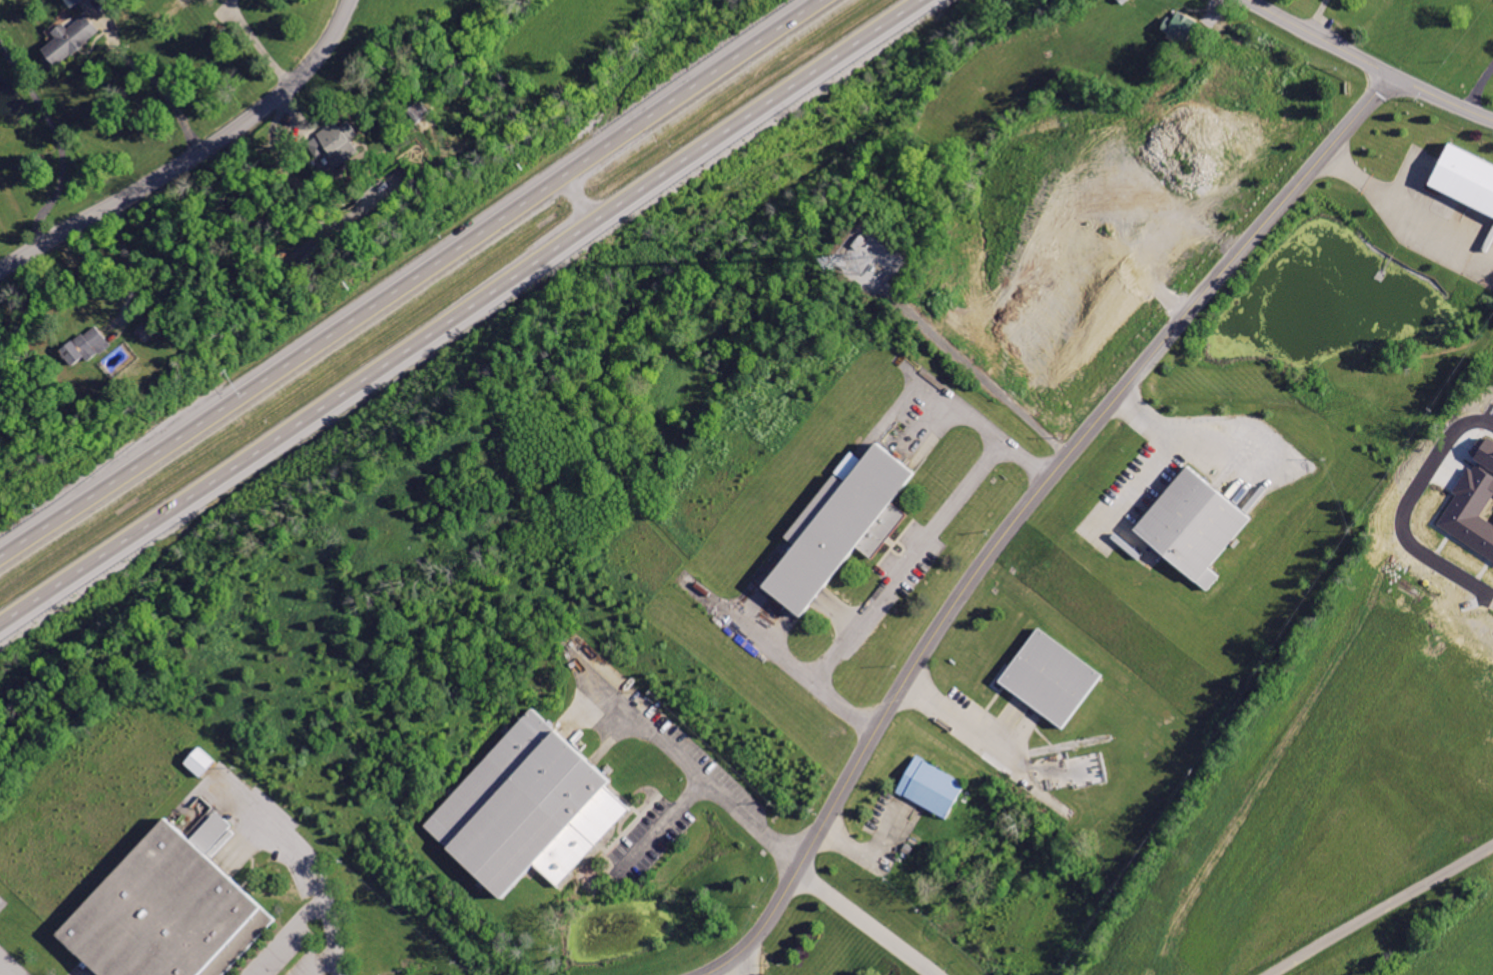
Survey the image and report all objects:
building: (79, 2)
building: (1184, 28)
building: (69, 41)
road: (255, 42)
road: (1372, 63)
road: (148, 71)
road: (1480, 89)
building: (422, 110)
road: (60, 134)
building: (336, 142)
road: (193, 155)
building: (1465, 176)
road: (1400, 201)
road: (134, 272)
road: (413, 280)
road: (461, 312)
building: (88, 345)
road: (966, 416)
road: (1164, 450)
building: (1447, 476)
building: (1474, 503)
road: (1025, 508)
building: (843, 526)
building: (1195, 528)
road: (896, 569)
road: (768, 646)
building: (1051, 678)
building: (200, 763)
road: (691, 768)
building: (936, 789)
building: (532, 809)
road: (663, 819)
road: (315, 867)
road: (1381, 907)
building: (173, 910)
road: (868, 923)
road: (284, 935)
road: (736, 968)

